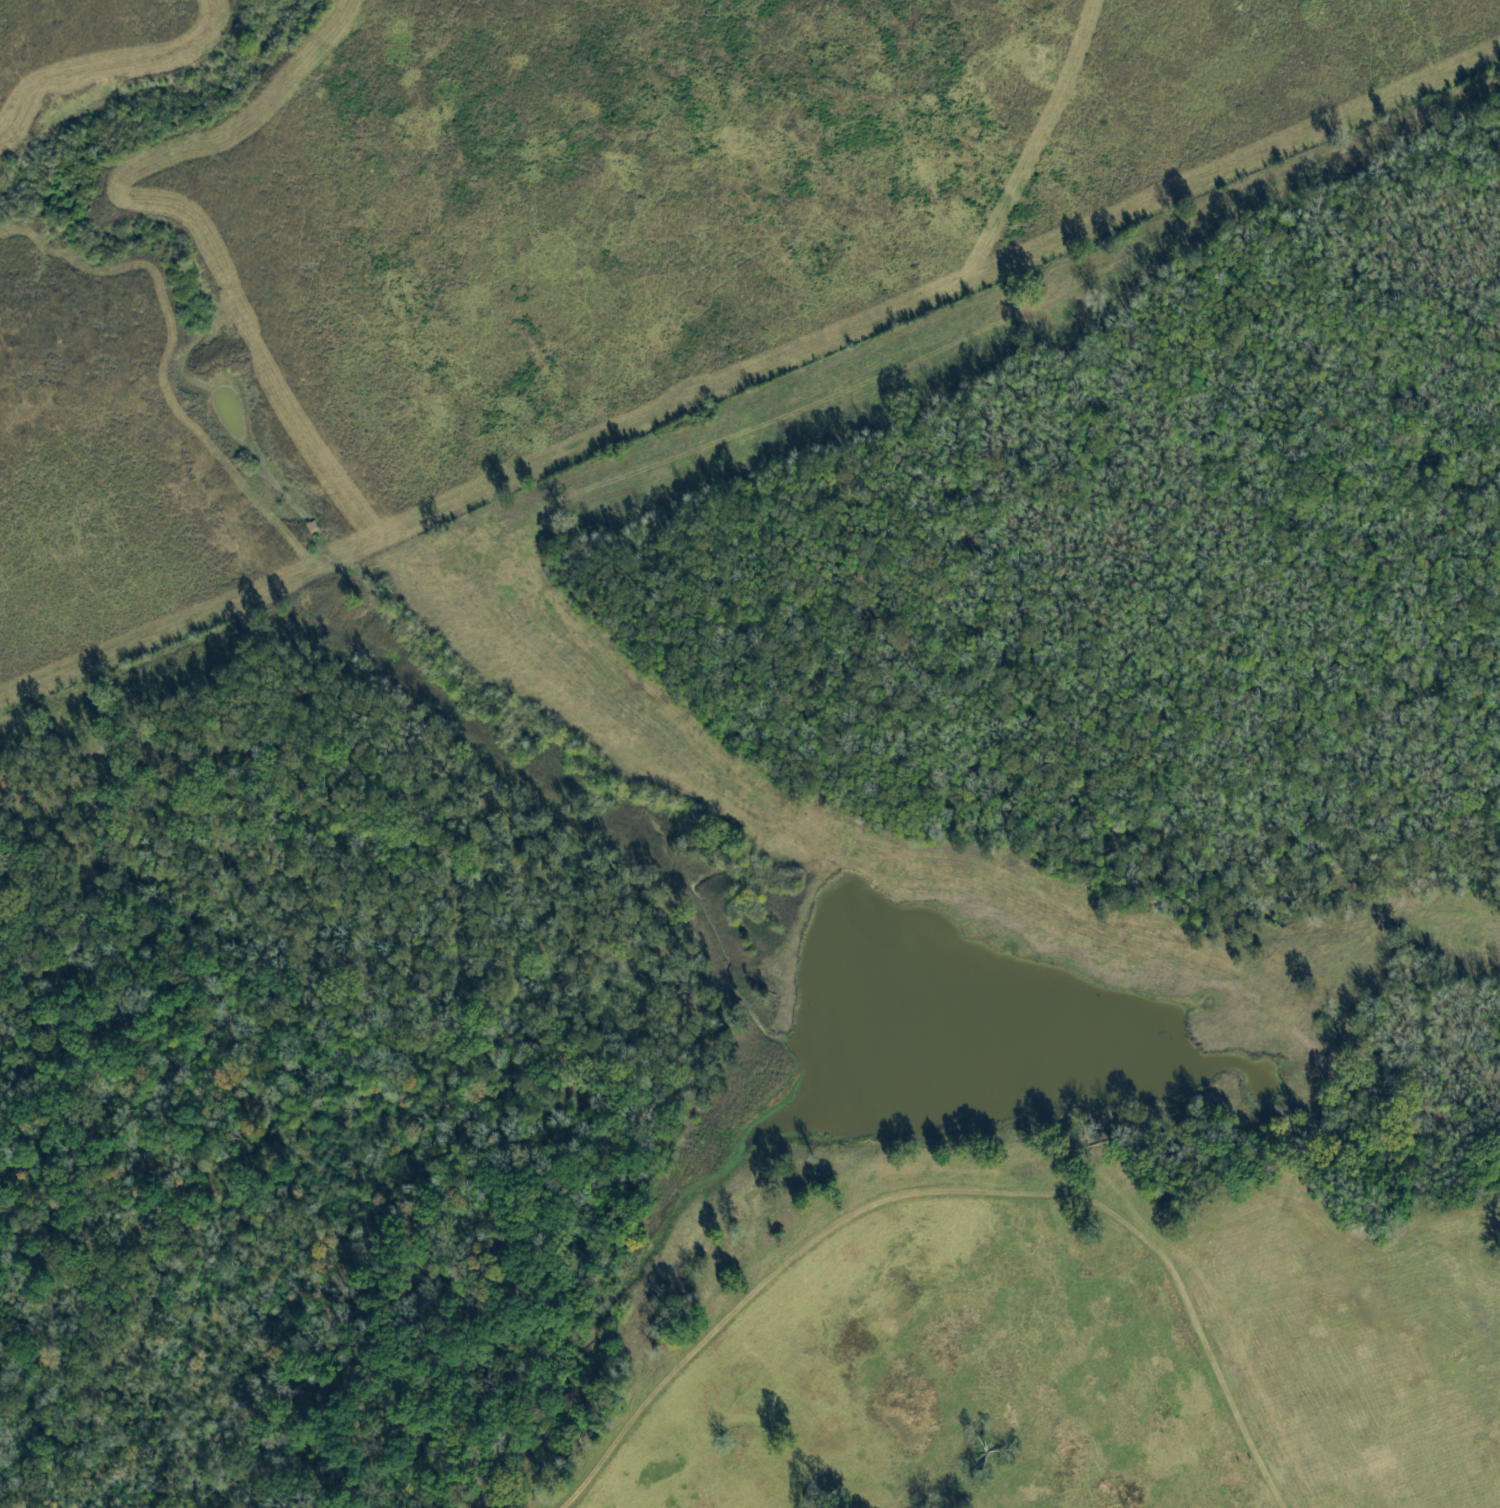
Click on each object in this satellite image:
road: (1191, 1337)

